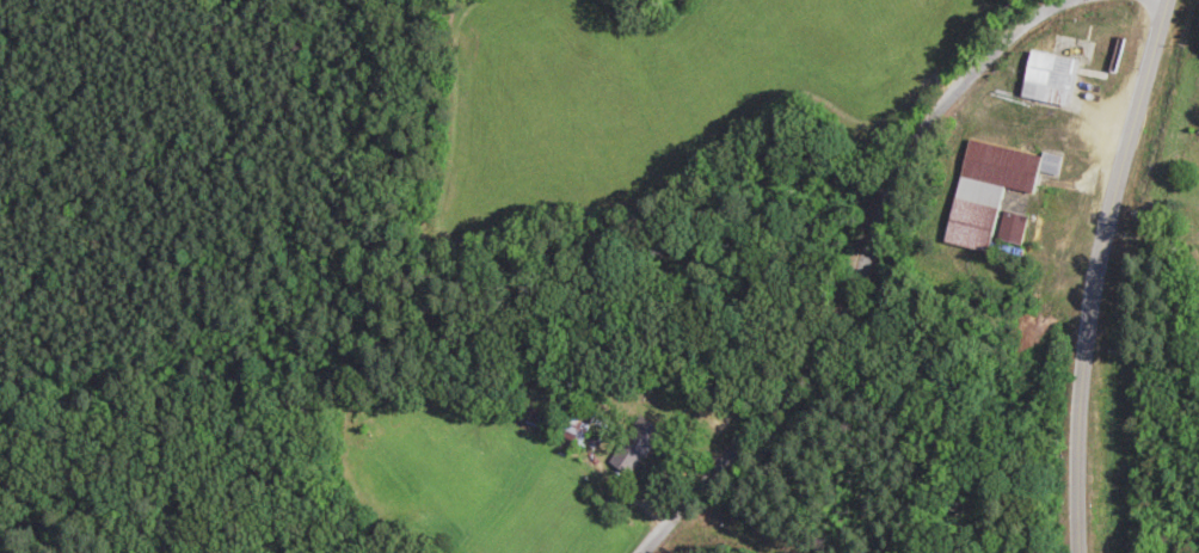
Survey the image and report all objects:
building: (1049, 79)
building: (989, 189)
road: (861, 268)
road: (1094, 271)
building: (525, 411)
building: (632, 446)
road: (1142, 502)

